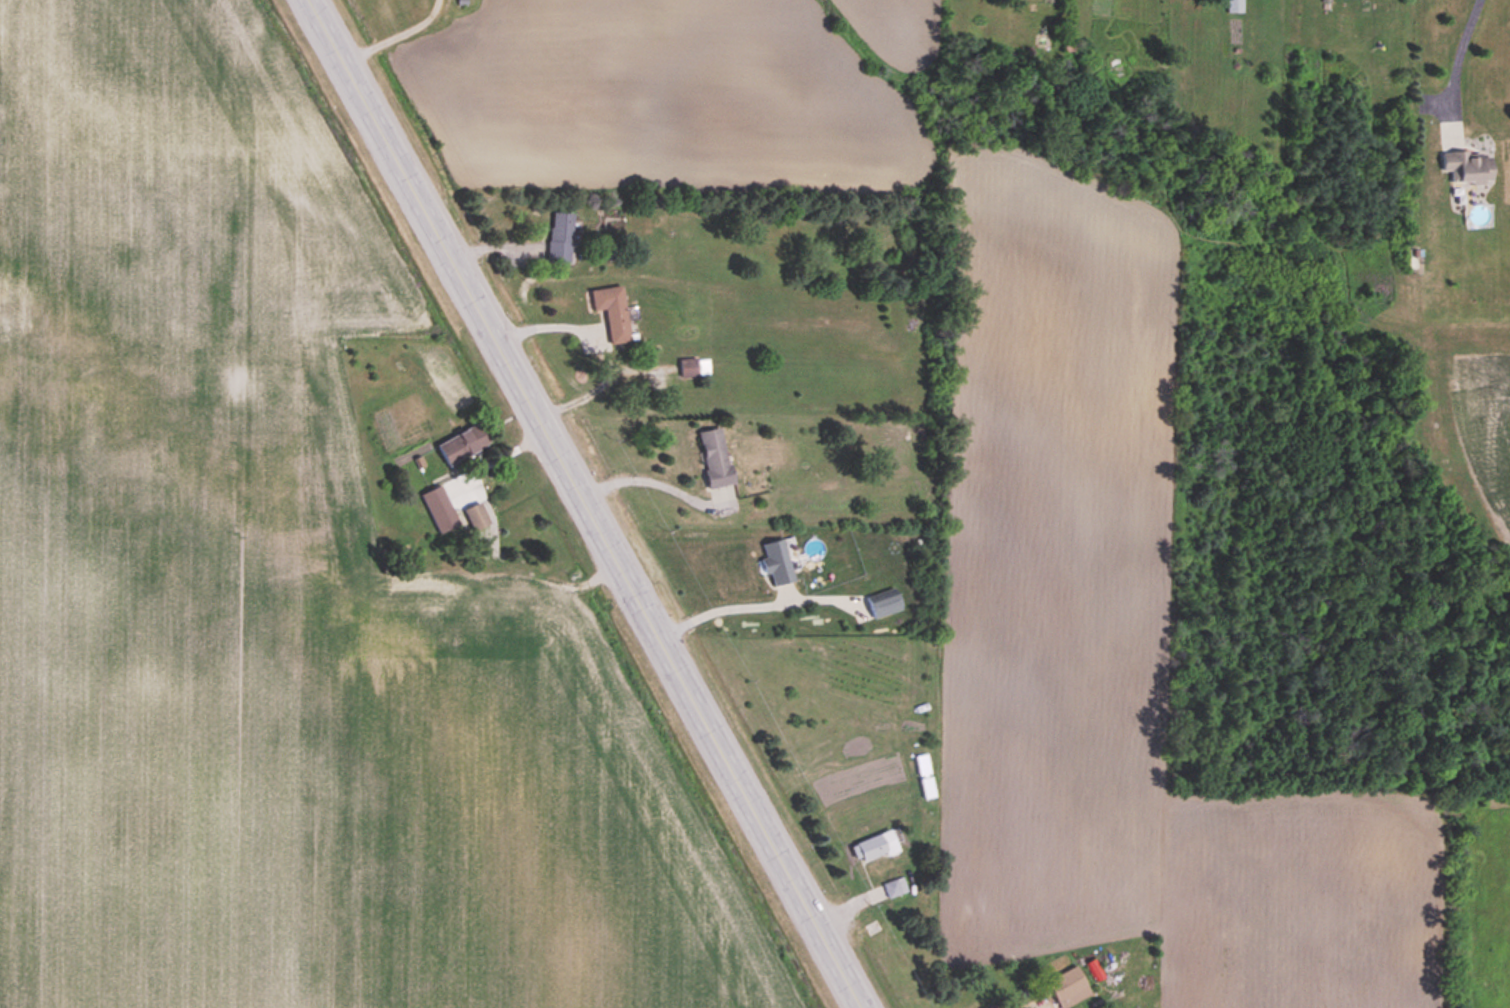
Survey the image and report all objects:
building: (1233, 6)
road: (1455, 68)
building: (1467, 168)
building: (1475, 215)
building: (561, 238)
building: (613, 313)
road: (598, 342)
building: (695, 367)
building: (463, 445)
building: (715, 457)
road: (655, 477)
road: (583, 504)
building: (440, 509)
building: (477, 517)
building: (778, 562)
road: (745, 602)
building: (884, 606)
building: (922, 765)
building: (875, 848)
building: (895, 888)
building: (869, 923)
building: (1068, 988)

